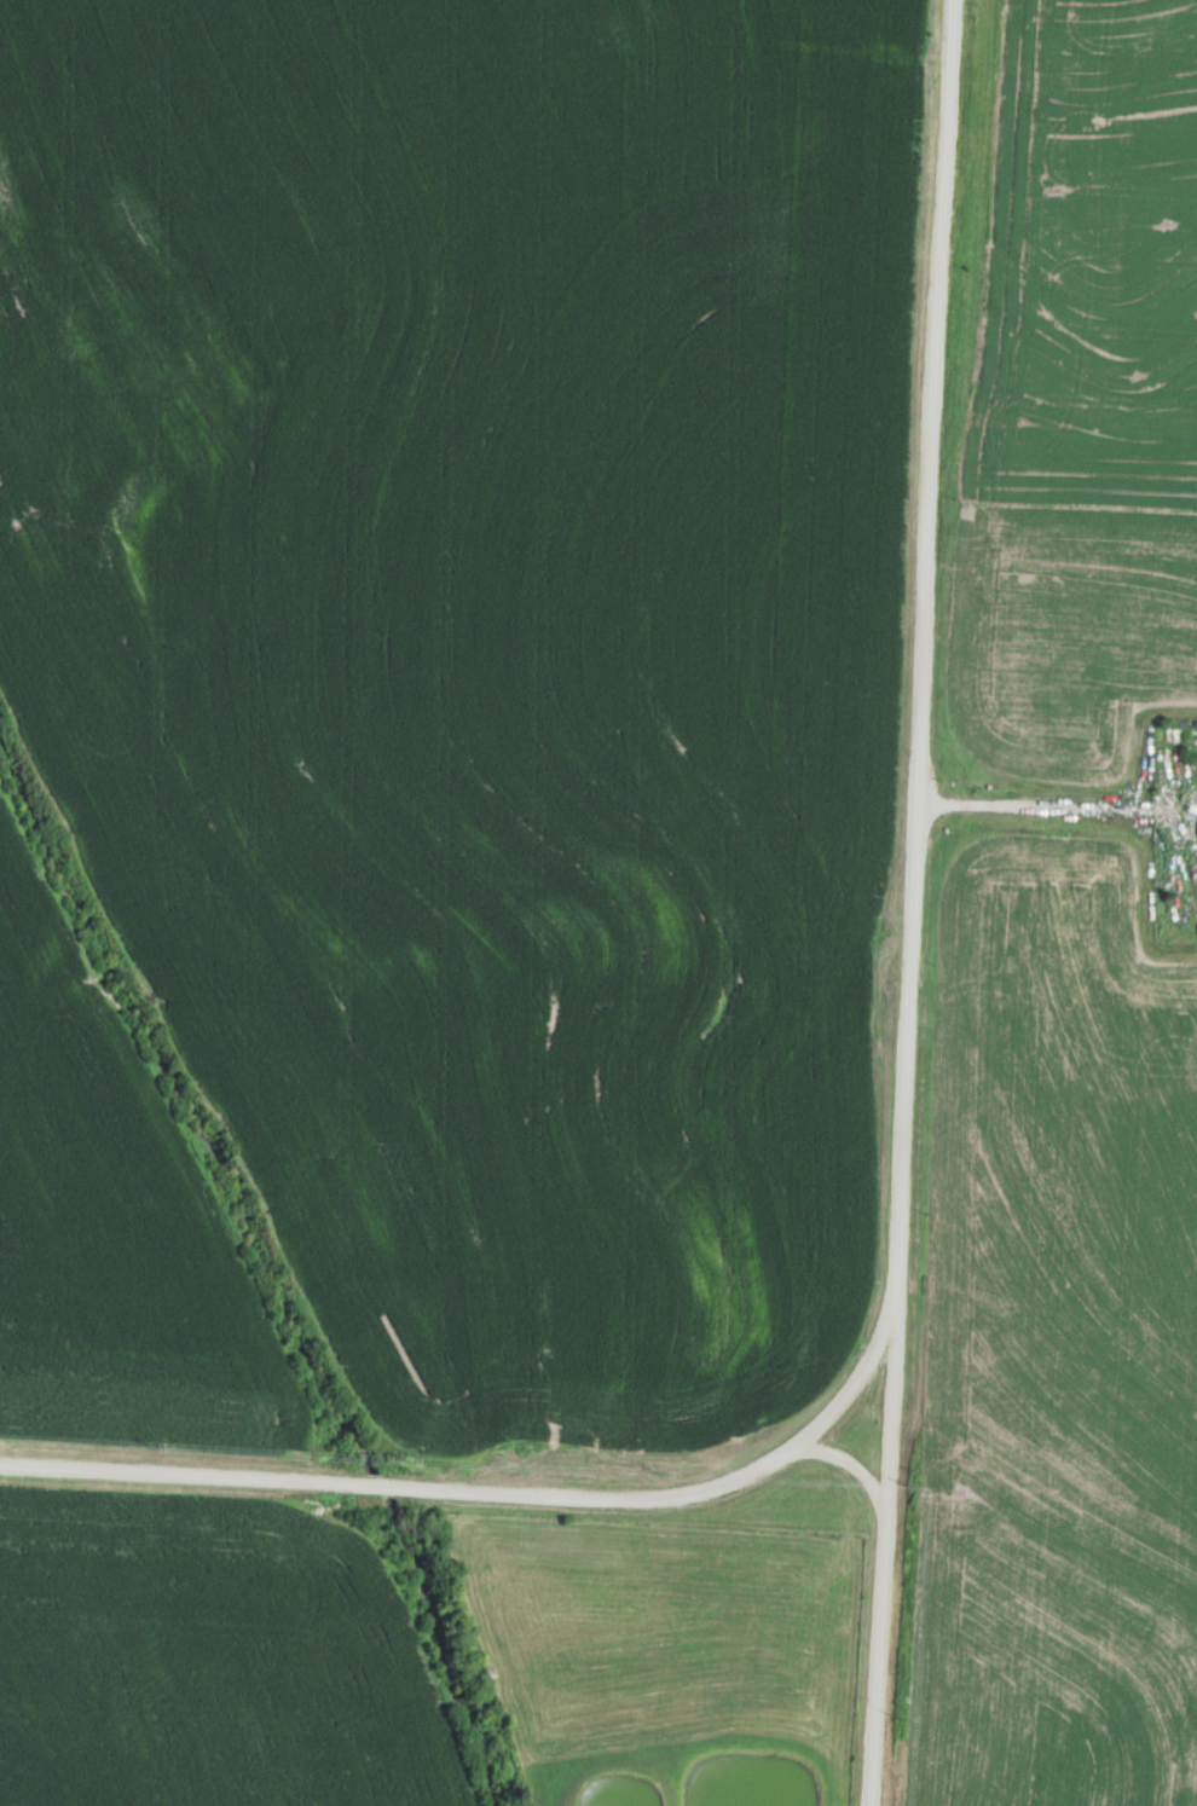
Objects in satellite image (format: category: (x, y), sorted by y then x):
road: (802, 48)
road: (1035, 803)
road: (914, 903)
road: (851, 1466)
road: (476, 1492)

